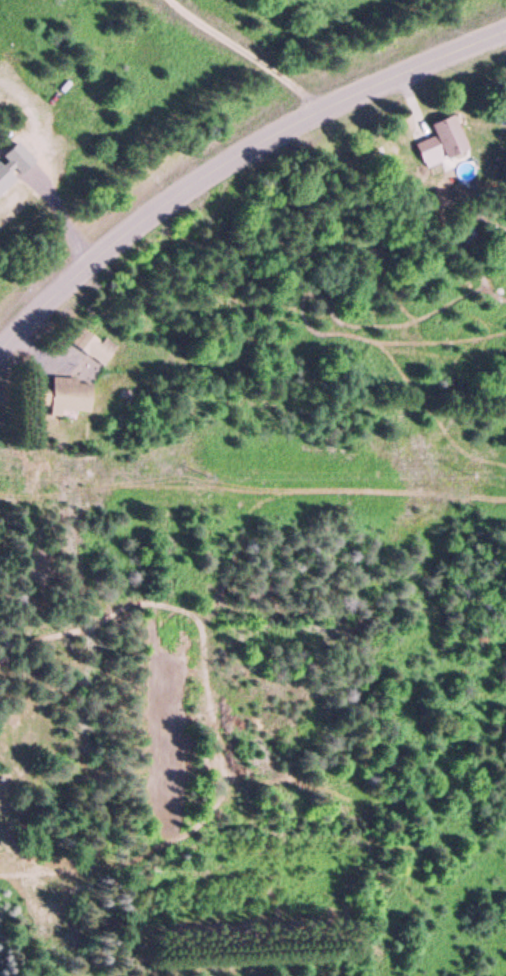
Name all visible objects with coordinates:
building: (441, 141)
road: (231, 159)
building: (91, 343)
building: (69, 394)

